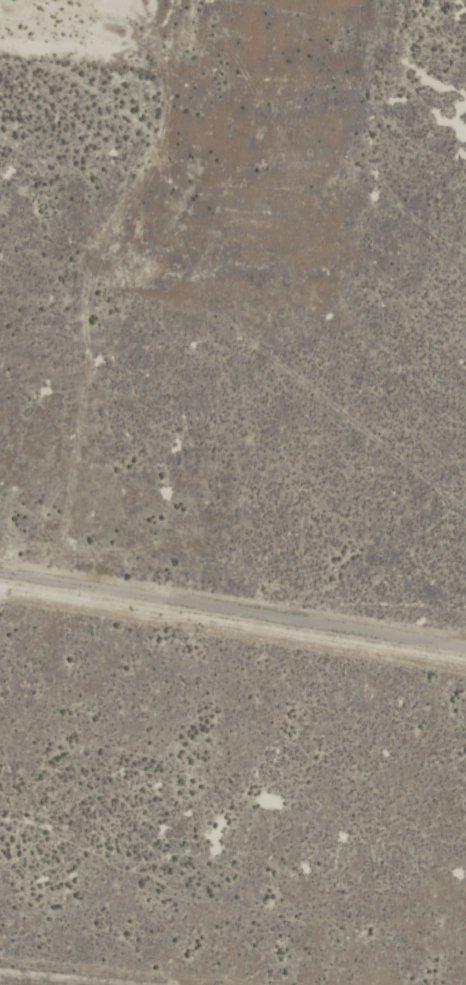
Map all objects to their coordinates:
airport: (233, 492)

